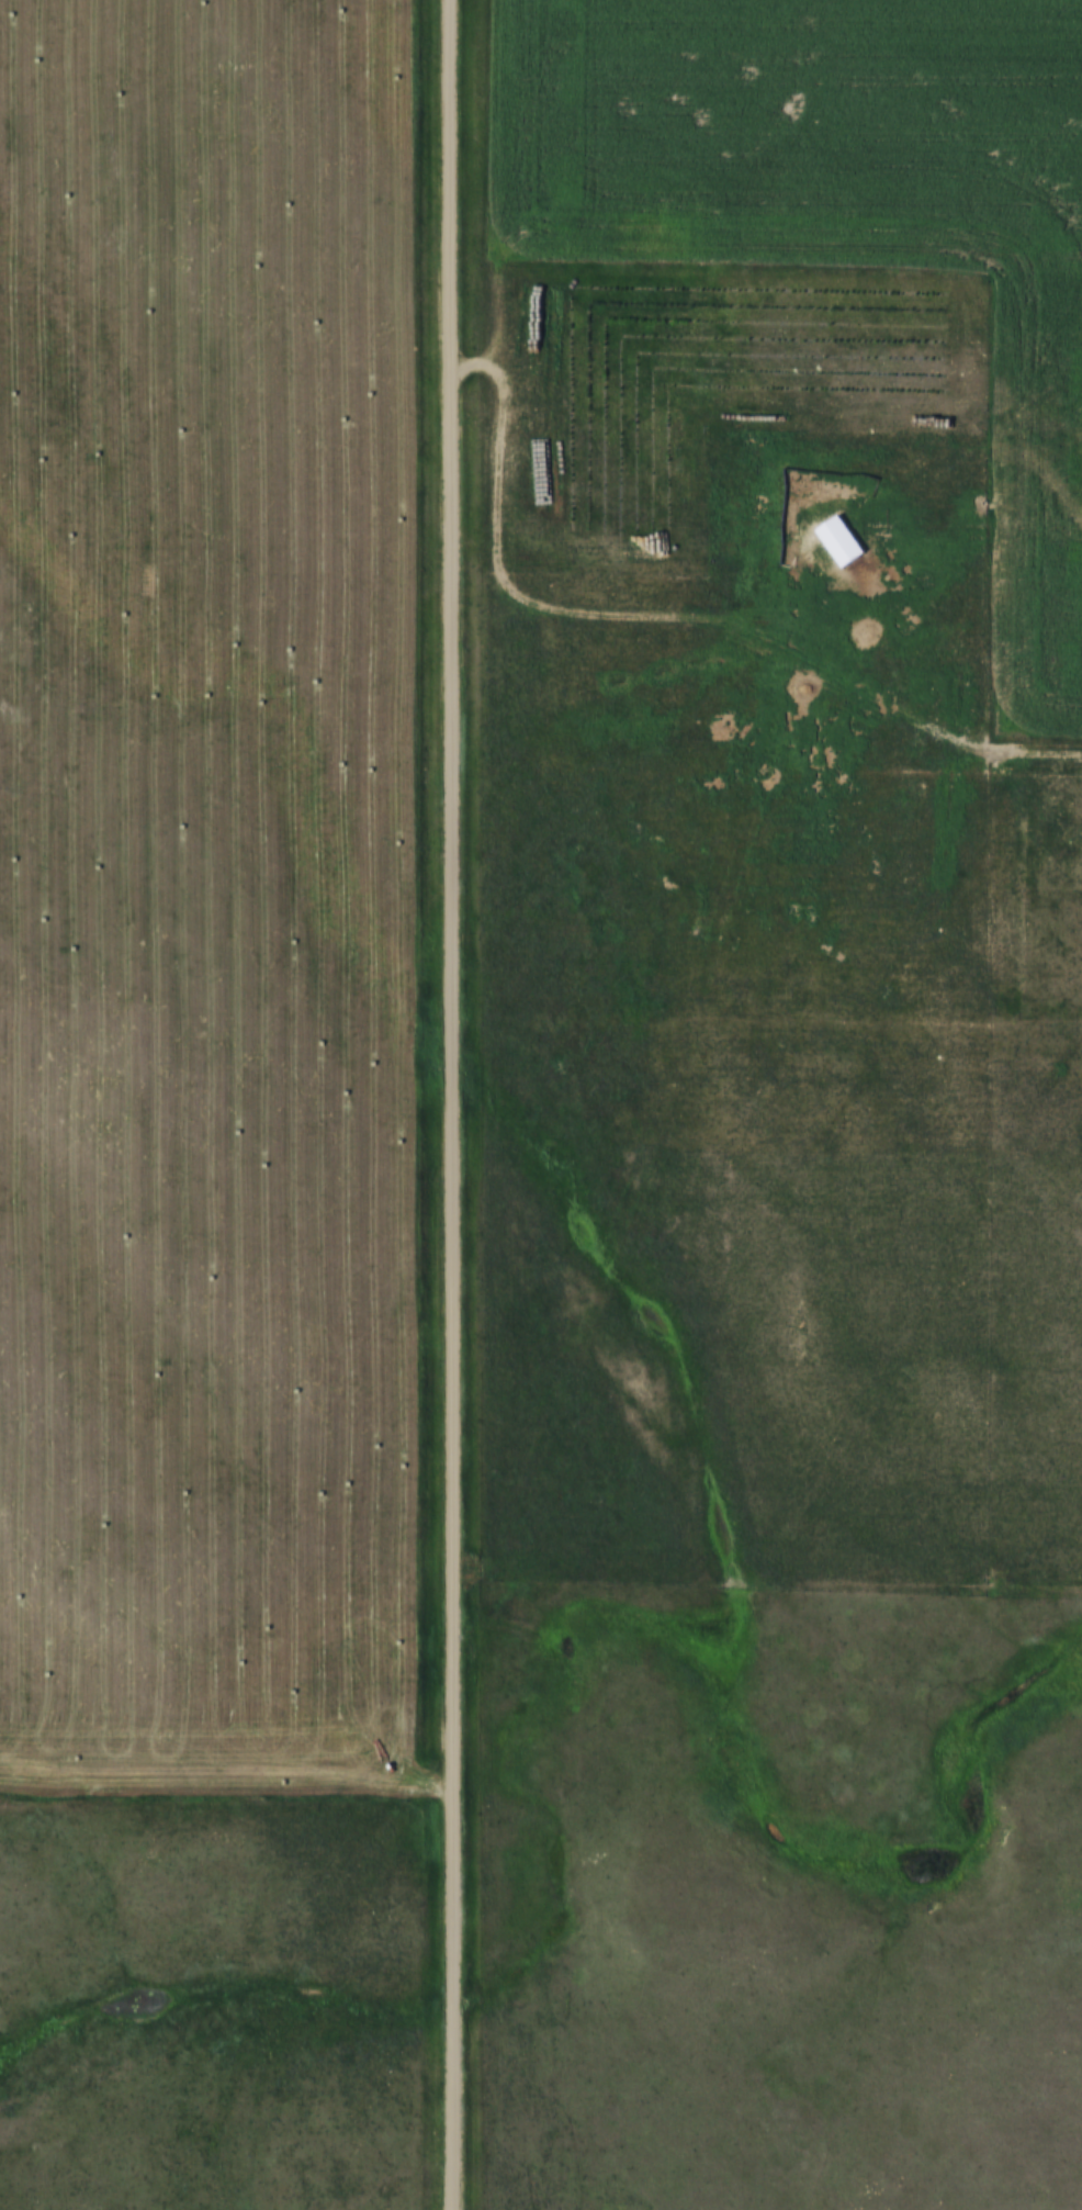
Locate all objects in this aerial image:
building: (825, 501)
building: (811, 515)
building: (238, 880)
road: (455, 1104)

